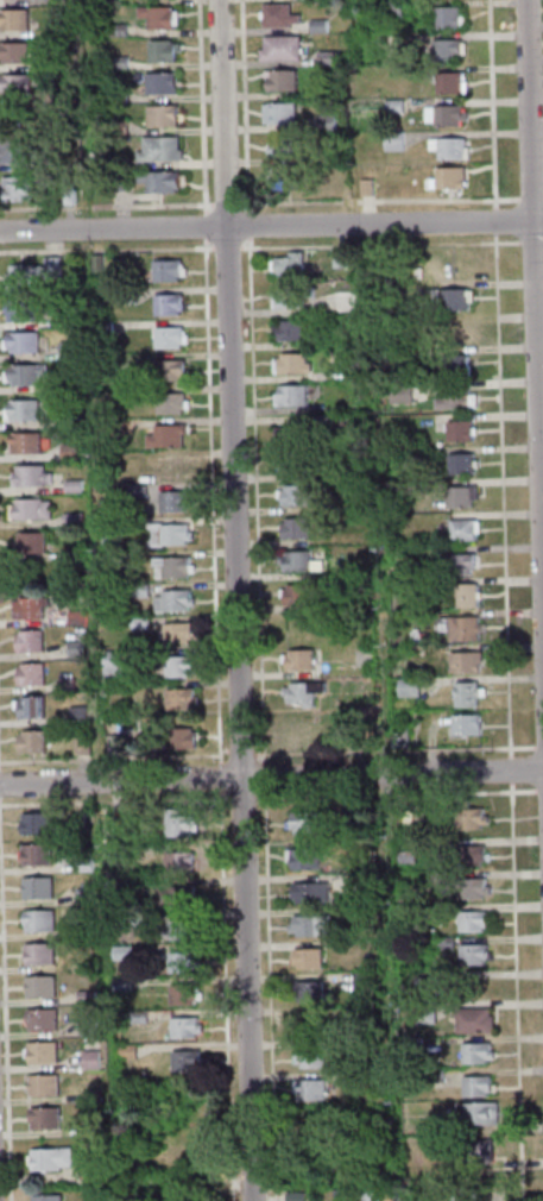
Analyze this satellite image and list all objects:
building: (55, 1)
building: (391, 8)
building: (277, 15)
building: (444, 15)
building: (156, 17)
building: (12, 19)
building: (317, 25)
building: (118, 30)
building: (391, 39)
building: (279, 48)
building: (444, 49)
building: (160, 50)
building: (13, 52)
building: (326, 58)
building: (116, 63)
building: (279, 80)
building: (447, 81)
building: (15, 83)
building: (159, 83)
building: (323, 90)
building: (116, 95)
road: (245, 103)
road: (492, 103)
road: (201, 105)
building: (392, 105)
building: (278, 112)
building: (443, 114)
building: (159, 115)
building: (326, 122)
building: (115, 127)
building: (392, 140)
building: (283, 146)
building: (447, 146)
building: (157, 149)
building: (15, 151)
building: (108, 162)
building: (448, 177)
building: (282, 178)
building: (157, 180)
building: (118, 182)
building: (364, 187)
building: (15, 188)
building: (67, 195)
road: (379, 200)
road: (530, 200)
road: (227, 203)
road: (106, 206)
road: (494, 221)
road: (248, 222)
road: (271, 222)
road: (206, 225)
road: (531, 241)
road: (380, 244)
road: (227, 247)
road: (106, 249)
building: (339, 258)
building: (95, 263)
building: (288, 265)
building: (165, 270)
building: (29, 272)
road: (495, 276)
building: (125, 296)
building: (291, 296)
building: (450, 297)
building: (345, 300)
building: (165, 303)
building: (19, 309)
building: (67, 317)
road: (533, 323)
building: (101, 327)
building: (290, 328)
building: (456, 333)
building: (166, 337)
building: (21, 341)
building: (67, 351)
building: (387, 358)
building: (291, 364)
building: (454, 364)
building: (168, 370)
building: (24, 373)
building: (399, 392)
building: (289, 395)
building: (452, 398)
building: (169, 402)
building: (21, 409)
building: (68, 421)
building: (345, 422)
building: (103, 430)
building: (457, 430)
building: (291, 433)
building: (164, 435)
building: (24, 442)
building: (68, 452)
building: (413, 454)
building: (112, 460)
building: (291, 463)
building: (457, 463)
building: (173, 467)
building: (353, 470)
building: (30, 476)
building: (71, 486)
building: (135, 491)
building: (455, 495)
building: (295, 496)
road: (257, 499)
building: (172, 501)
road: (211, 501)
building: (31, 509)
building: (70, 518)
building: (293, 528)
building: (461, 529)
building: (165, 534)
building: (108, 535)
building: (29, 542)
building: (72, 557)
building: (295, 560)
building: (457, 562)
building: (170, 566)
building: (137, 590)
building: (296, 593)
building: (465, 595)
building: (171, 599)
road: (235, 599)
building: (29, 608)
building: (75, 617)
building: (138, 622)
building: (461, 627)
building: (175, 633)
building: (27, 641)
building: (74, 648)
building: (297, 659)
building: (463, 661)
building: (111, 666)
building: (176, 666)
building: (29, 673)
building: (63, 684)
building: (406, 687)
building: (301, 692)
building: (463, 693)
building: (178, 698)
building: (29, 706)
building: (76, 715)
building: (463, 724)
building: (301, 735)
building: (178, 737)
building: (397, 737)
building: (30, 741)
building: (112, 743)
building: (80, 746)
road: (220, 769)
road: (265, 769)
road: (271, 776)
building: (406, 813)
building: (468, 818)
building: (305, 822)
building: (34, 823)
building: (176, 823)
building: (348, 823)
building: (118, 853)
building: (36, 854)
building: (467, 855)
building: (303, 859)
building: (177, 862)
building: (82, 864)
building: (438, 878)
building: (345, 884)
building: (118, 885)
building: (36, 887)
building: (471, 888)
building: (309, 892)
building: (173, 895)
building: (434, 911)
building: (138, 919)
building: (37, 920)
building: (469, 920)
building: (309, 925)
building: (179, 928)
building: (83, 930)
building: (442, 942)
building: (121, 952)
building: (38, 954)
building: (471, 954)
building: (305, 958)
building: (181, 961)
building: (360, 979)
building: (120, 983)
building: (38, 986)
building: (425, 986)
building: (307, 991)
building: (181, 994)
building: (86, 996)
building: (423, 1013)
building: (138, 1017)
building: (40, 1018)
building: (473, 1020)
building: (87, 1026)
building: (183, 1027)
building: (411, 1043)
building: (343, 1045)
building: (40, 1051)
building: (125, 1051)
building: (474, 1052)
building: (309, 1056)
building: (89, 1059)
building: (184, 1061)
building: (434, 1076)
building: (345, 1077)
building: (42, 1086)
building: (474, 1086)
building: (308, 1089)
building: (89, 1095)
building: (478, 1113)
building: (43, 1118)
building: (90, 1128)
building: (473, 1151)
building: (49, 1158)
building: (90, 1172)
building: (368, 1194)
building: (402, 1194)
building: (492, 1194)
building: (339, 1195)
building: (295, 1196)
building: (46, 1197)
building: (184, 1197)

